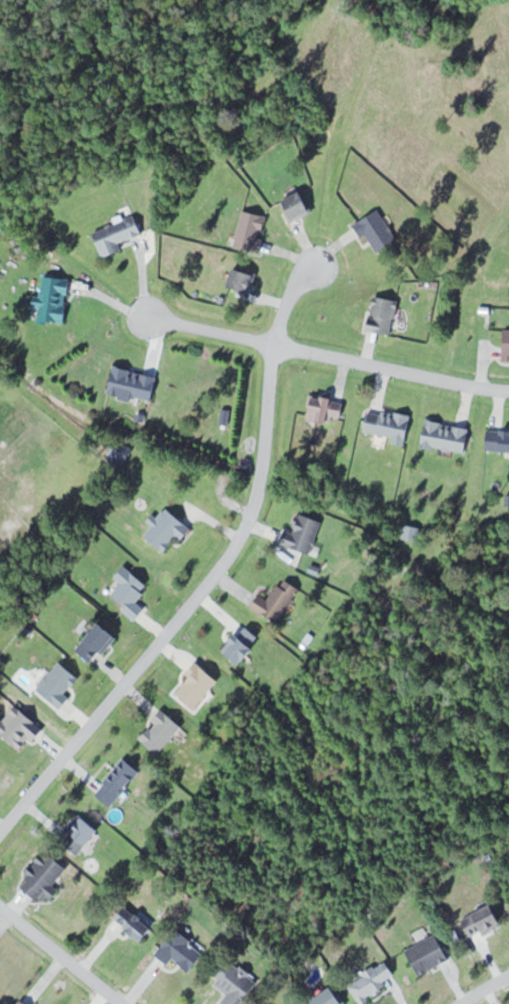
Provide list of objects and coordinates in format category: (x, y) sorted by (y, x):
building: (298, 204)
building: (251, 229)
building: (378, 230)
building: (117, 235)
building: (243, 279)
road: (287, 296)
building: (55, 299)
building: (384, 313)
building: (506, 345)
road: (326, 354)
building: (134, 383)
building: (326, 408)
building: (390, 424)
building: (447, 436)
building: (498, 440)
building: (121, 450)
building: (169, 529)
building: (304, 533)
building: (132, 591)
building: (277, 601)
road: (184, 608)
building: (98, 641)
building: (243, 645)
building: (59, 684)
building: (196, 685)
building: (161, 731)
building: (119, 781)
building: (80, 834)
building: (45, 877)
building: (483, 921)
building: (135, 923)
building: (181, 950)
building: (429, 953)
road: (58, 956)
building: (372, 981)
building: (236, 983)
road: (488, 991)
building: (329, 998)
building: (25, 1002)

